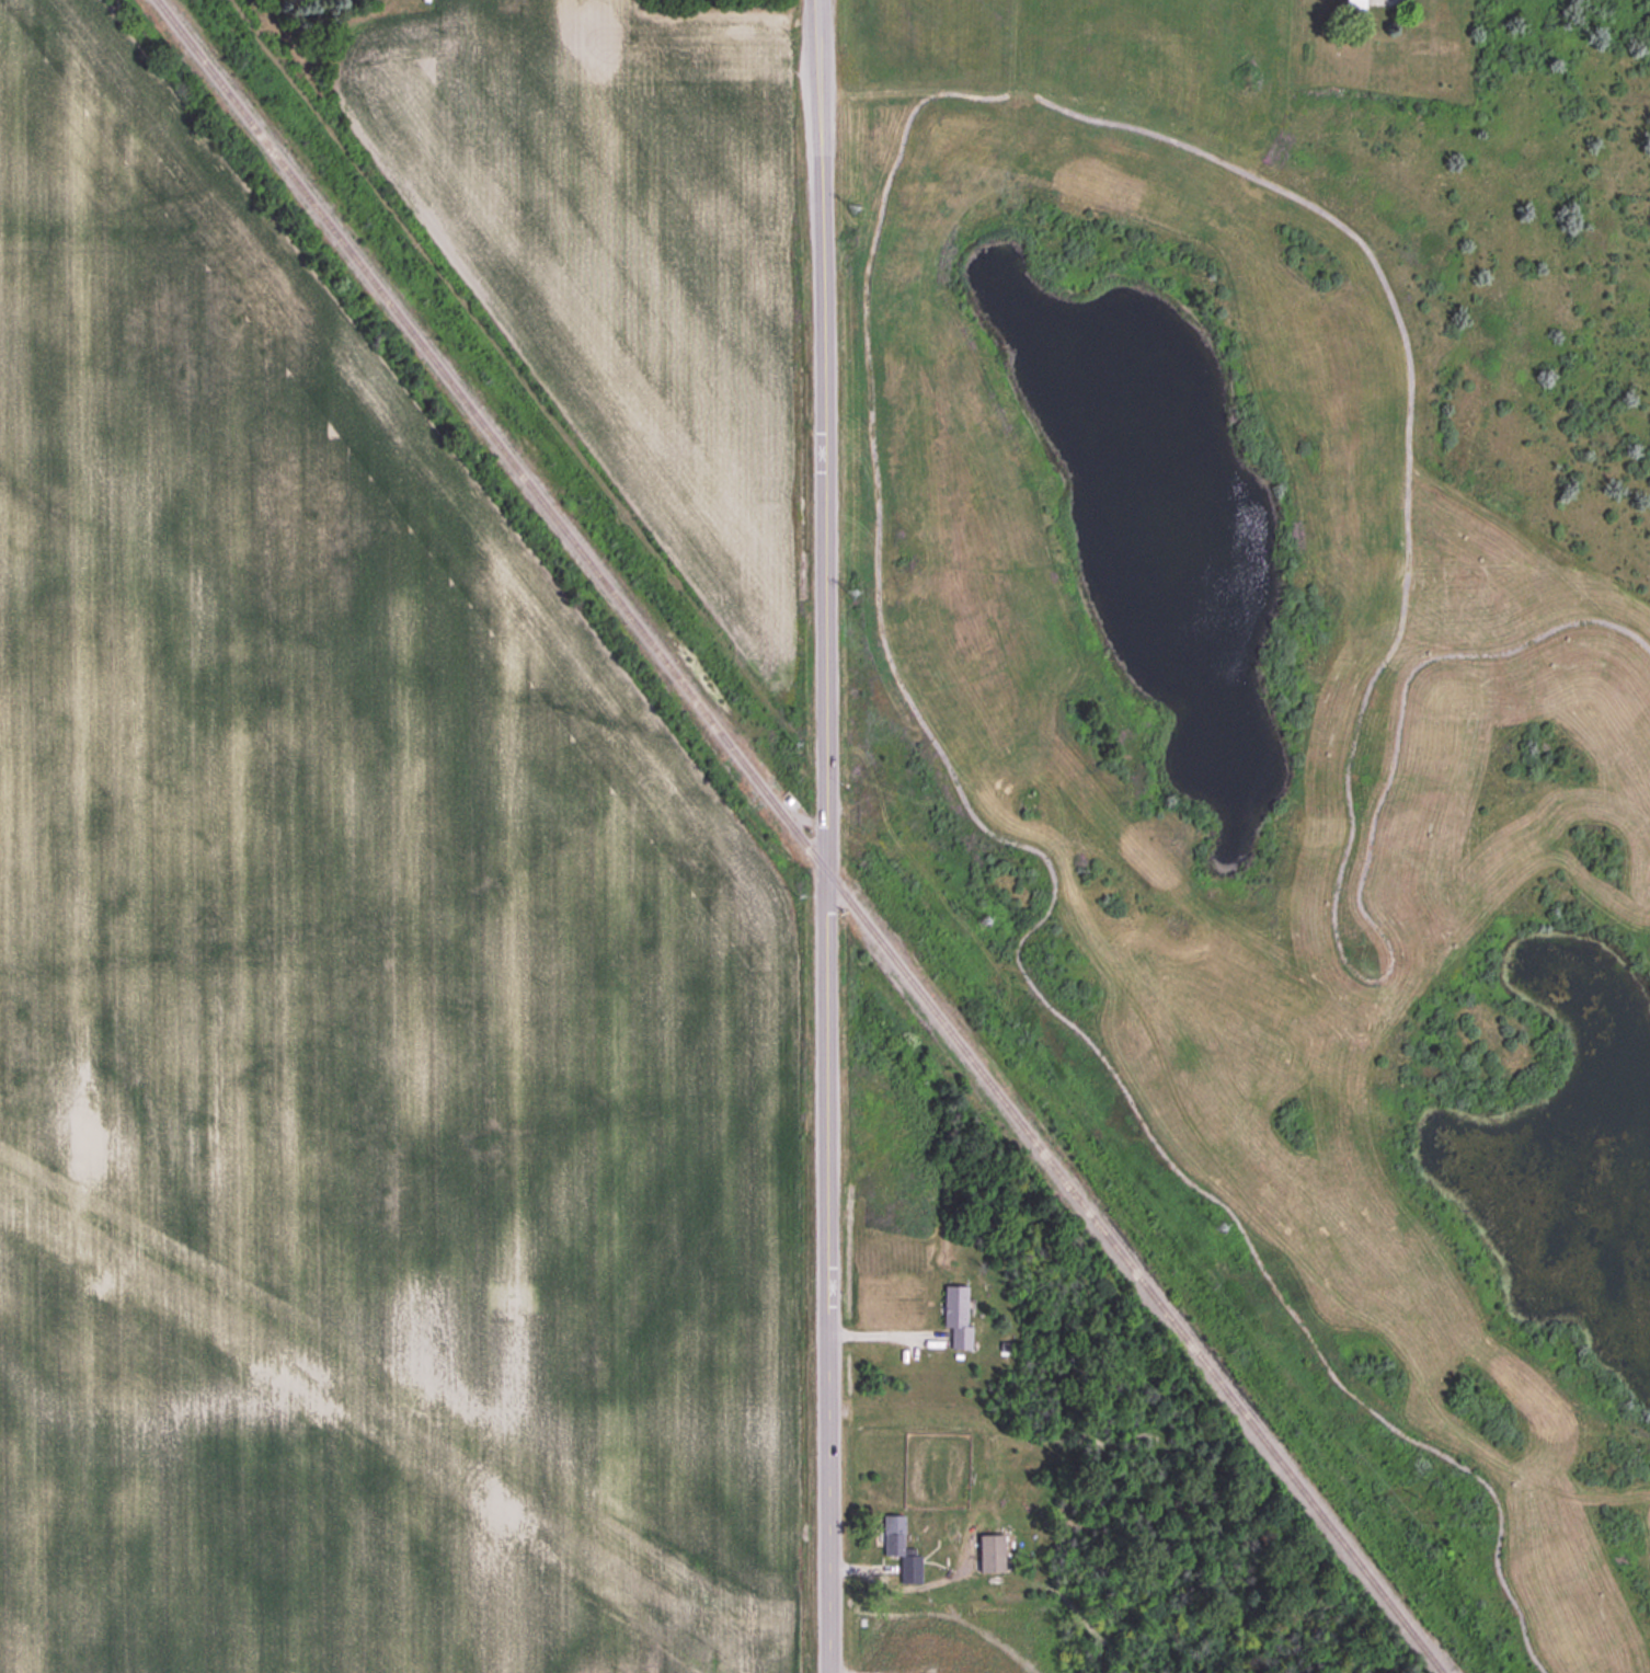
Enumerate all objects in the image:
building: (1355, 4)
power tower: (852, 208)
railway: (797, 835)
road: (824, 836)
building: (956, 1316)
road: (884, 1336)
building: (900, 1549)
building: (990, 1555)
building: (913, 1642)
building: (965, 1669)

